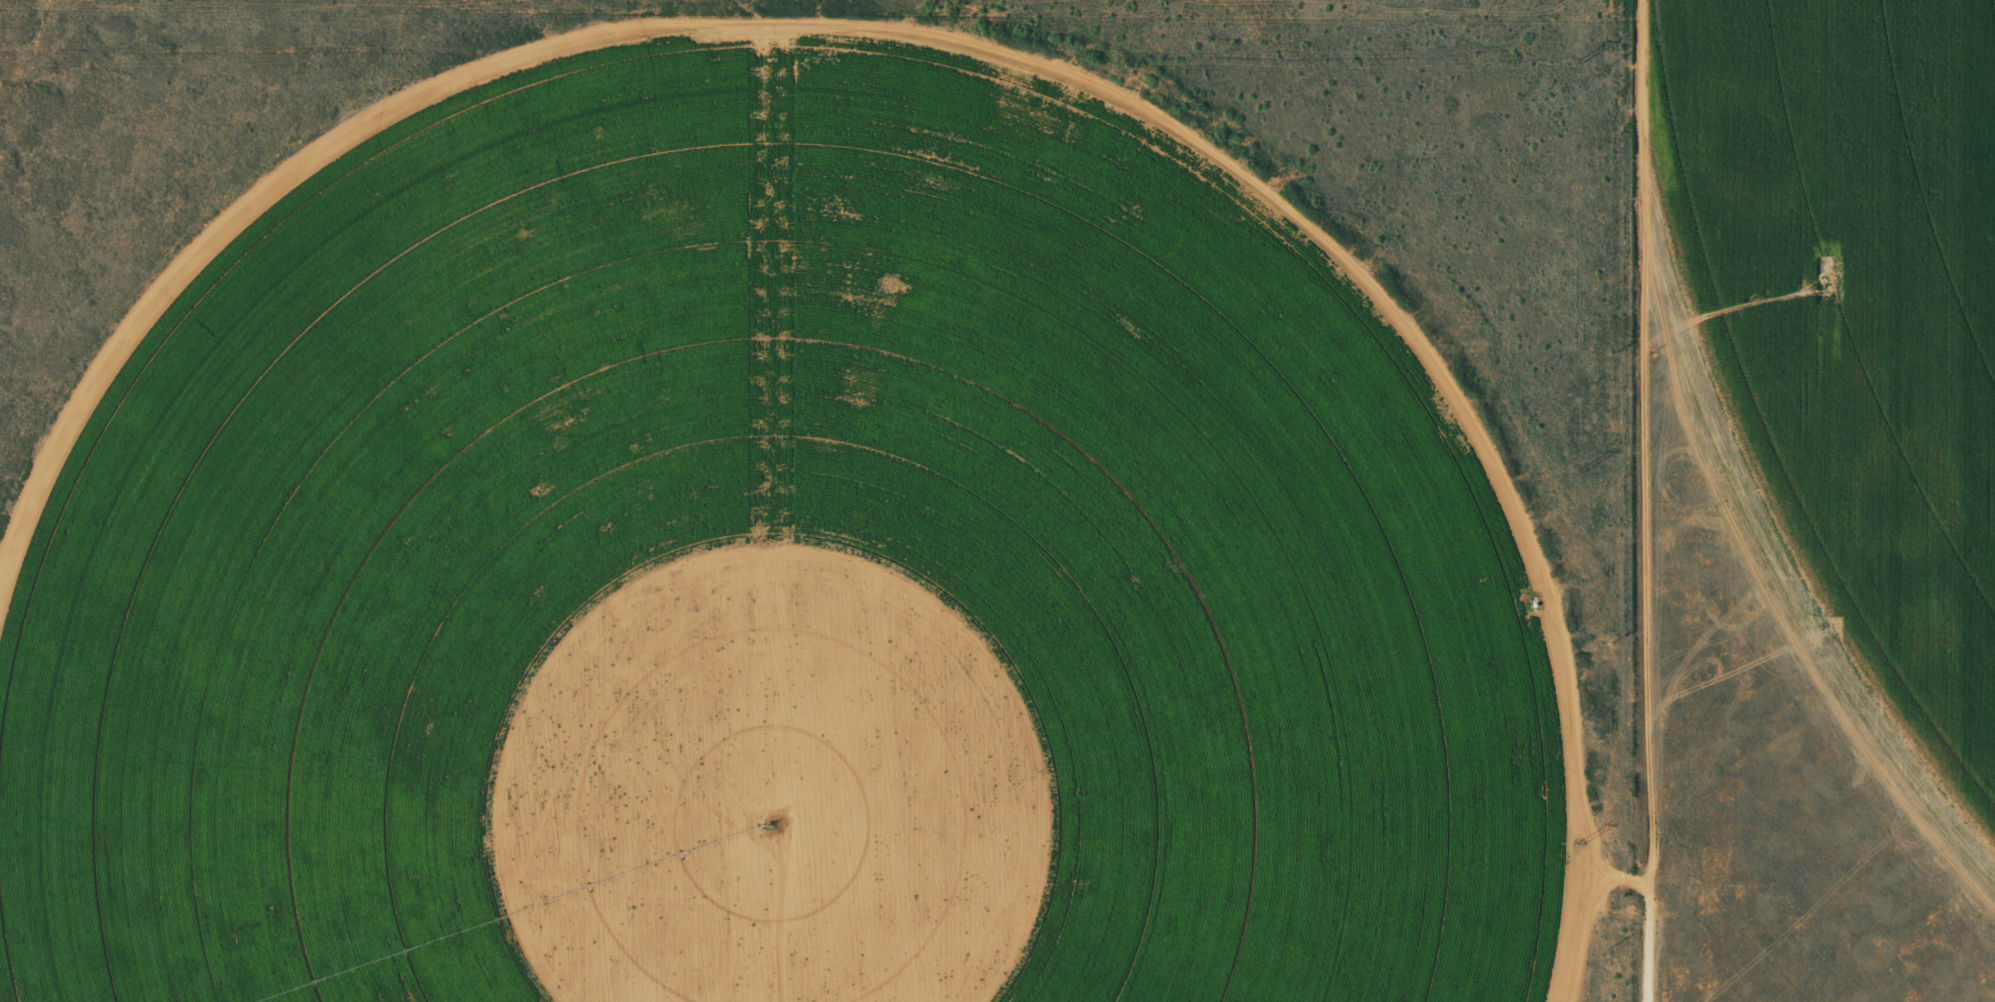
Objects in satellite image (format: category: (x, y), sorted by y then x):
road: (818, 32)
power tower: (1578, 63)
crop: (1855, 318)
power tower: (1575, 471)
road: (1633, 500)
power tower: (1579, 844)

